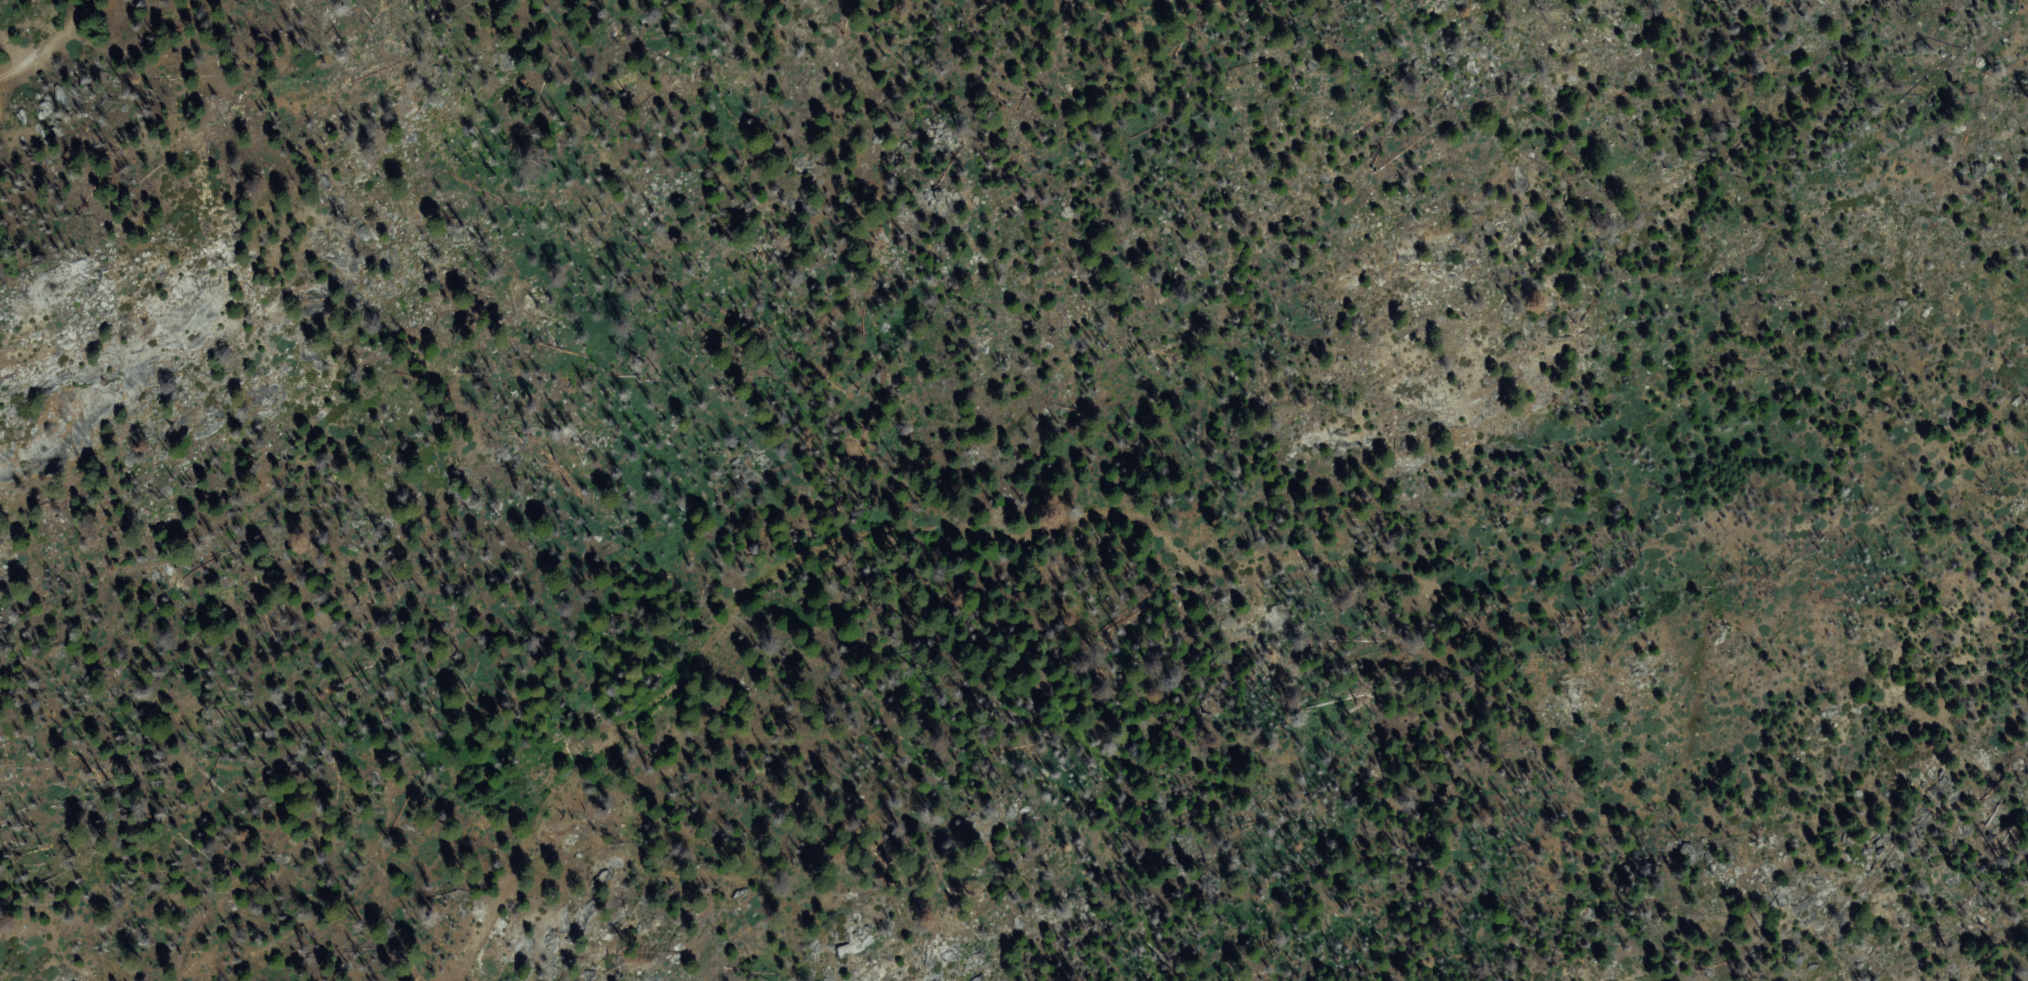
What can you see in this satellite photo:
road: (50, 41)

